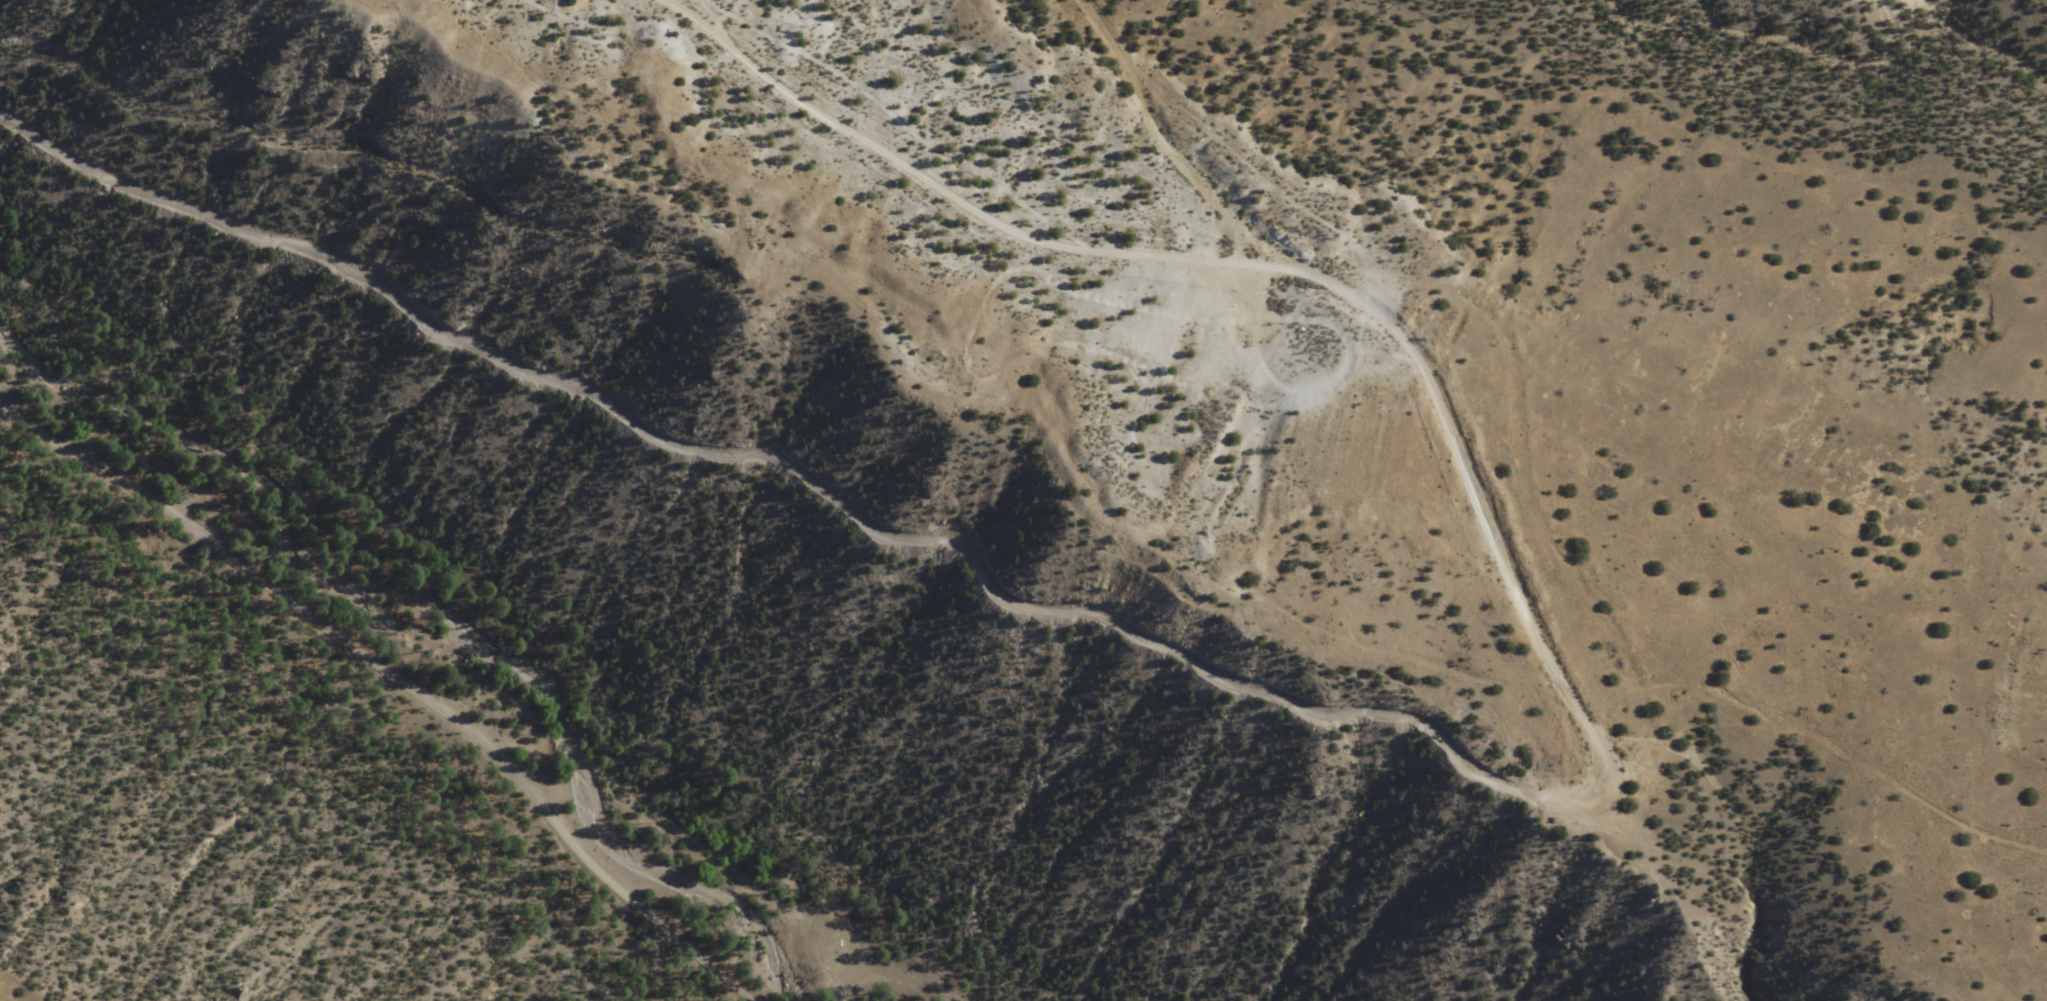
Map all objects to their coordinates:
road: (1176, 156)
road: (398, 675)
road: (1395, 720)

